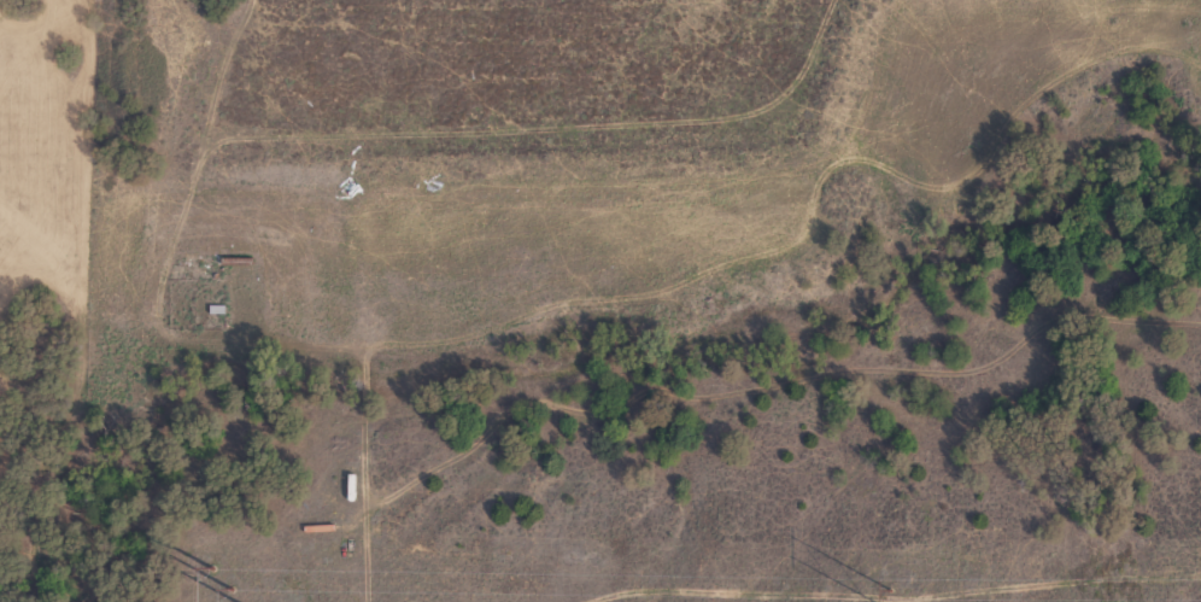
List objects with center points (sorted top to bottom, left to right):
building: (219, 271)
crop: (600, 300)
power tower: (228, 590)

